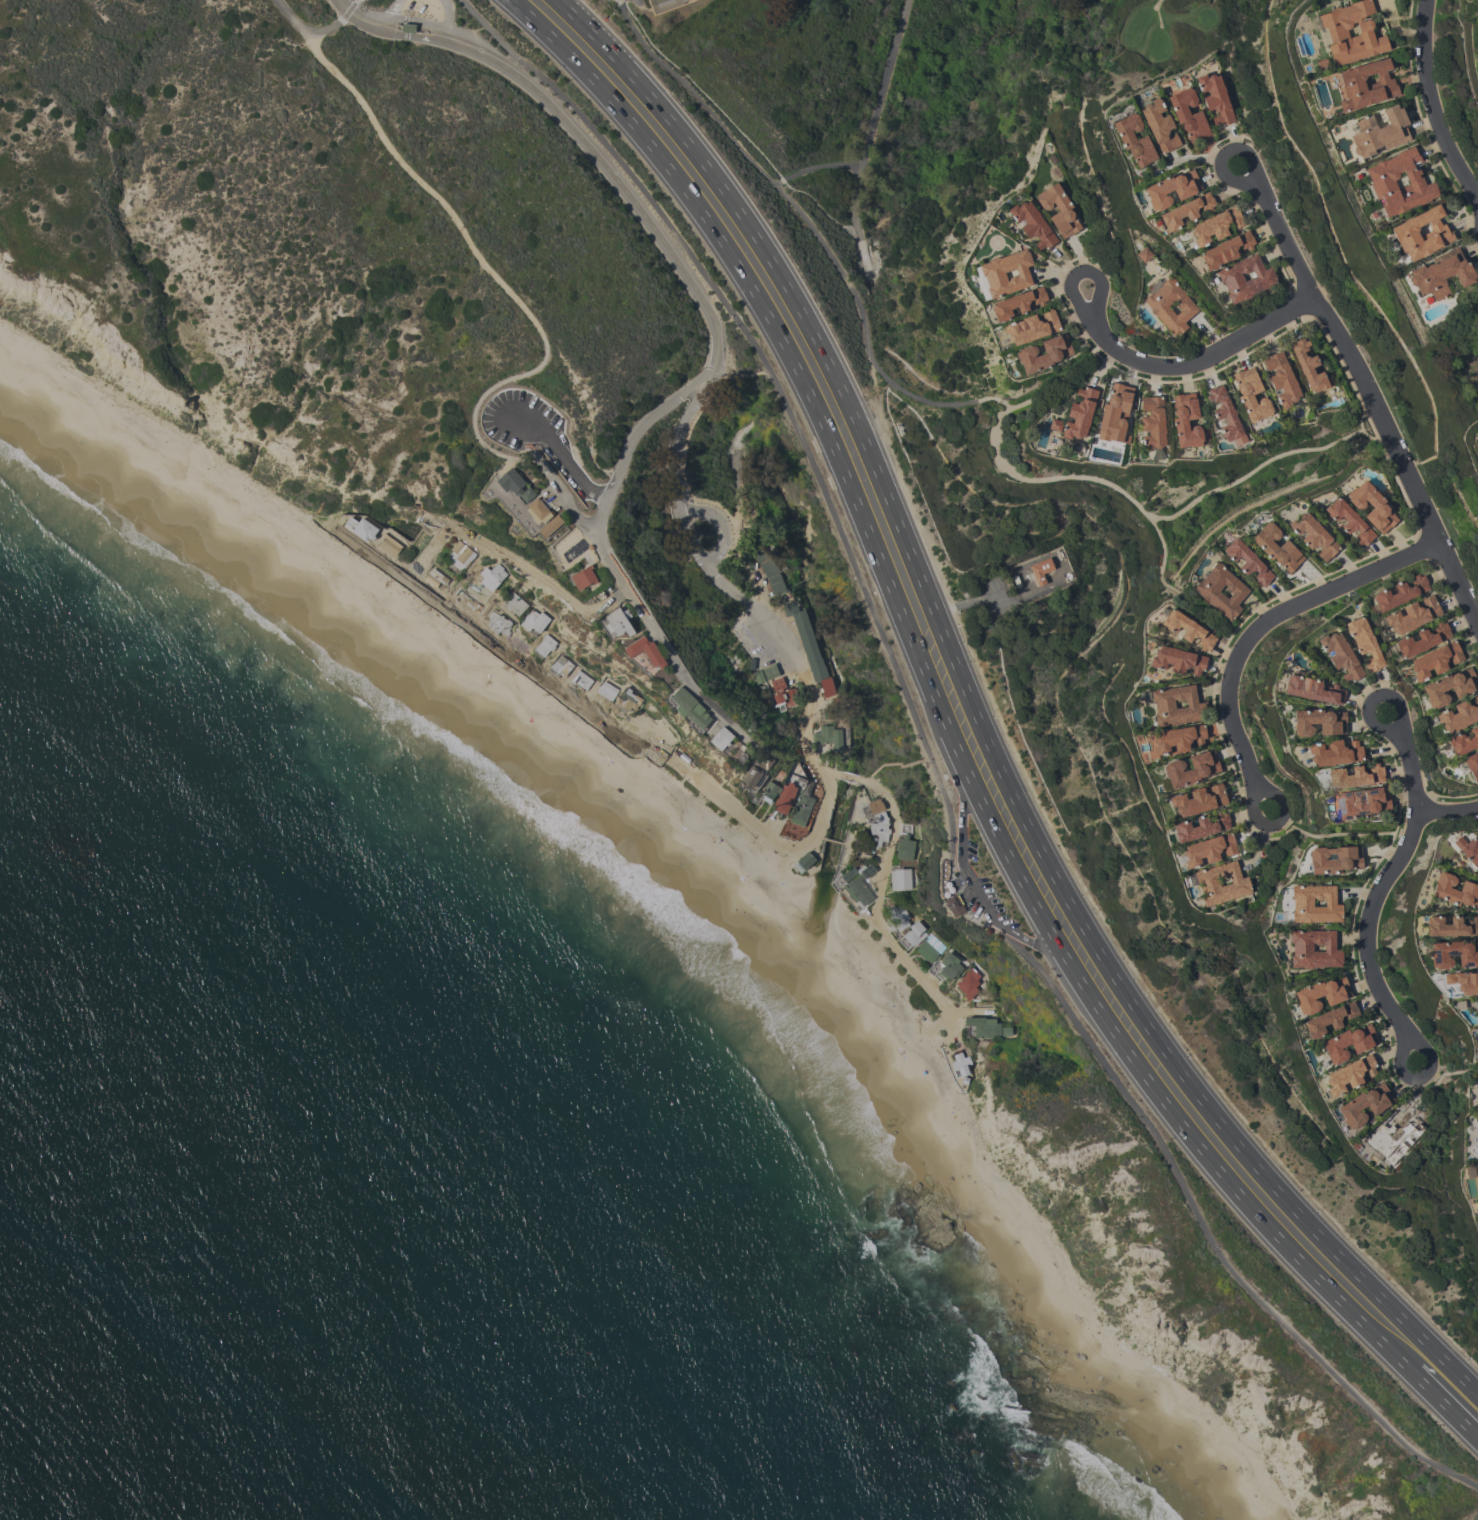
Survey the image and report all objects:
road: (355, 0)
building: (663, 4)
road: (343, 8)
road: (394, 8)
road: (346, 11)
road: (404, 18)
road: (447, 18)
road: (302, 28)
building: (409, 28)
road: (470, 31)
building: (1351, 32)
park: (1141, 33)
road: (399, 34)
building: (1365, 84)
building: (1215, 98)
road: (1438, 100)
building: (1188, 114)
building: (1158, 124)
building: (1379, 131)
road: (587, 134)
building: (1134, 139)
road: (868, 141)
road: (816, 167)
building: (1400, 182)
building: (1171, 188)
building: (1058, 209)
building: (1186, 211)
building: (1032, 224)
building: (1216, 225)
building: (1422, 233)
building: (1226, 250)
building: (1143, 254)
road: (680, 266)
road: (485, 267)
building: (1006, 273)
building: (1441, 273)
building: (1245, 277)
road: (848, 279)
building: (1017, 303)
building: (1170, 306)
building: (1031, 327)
building: (1044, 353)
road: (1188, 363)
building: (1308, 366)
road: (739, 375)
building: (1281, 378)
road: (1366, 385)
building: (1251, 394)
road: (783, 404)
building: (1114, 411)
building: (1080, 413)
building: (1226, 415)
building: (1187, 421)
parking lot: (523, 422)
building: (1152, 422)
building: (1055, 424)
road: (1361, 428)
road: (629, 441)
road: (559, 452)
road: (872, 459)
road: (504, 463)
road: (737, 466)
road: (1253, 470)
building: (512, 482)
building: (528, 495)
road: (1127, 495)
road: (538, 497)
road: (700, 500)
road: (508, 501)
building: (1372, 506)
building: (540, 509)
building: (1349, 520)
road: (724, 524)
building: (551, 525)
building: (361, 528)
building: (1313, 535)
building: (388, 545)
road: (578, 545)
parking lot: (574, 547)
building: (1276, 547)
building: (459, 554)
road: (516, 559)
building: (1247, 561)
building: (768, 570)
building: (1040, 570)
building: (491, 576)
building: (584, 577)
building: (434, 578)
building: (1221, 590)
building: (1400, 592)
road: (638, 601)
building: (513, 603)
road: (610, 608)
building: (1413, 615)
road: (761, 618)
building: (533, 620)
road: (1266, 620)
building: (619, 622)
building: (497, 623)
building: (1187, 629)
building: (807, 639)
building: (1422, 639)
parking lot: (750, 640)
building: (1364, 642)
building: (543, 646)
building: (646, 651)
building: (1341, 655)
building: (1177, 660)
building: (1435, 660)
building: (559, 666)
building: (771, 671)
building: (758, 676)
building: (580, 679)
building: (778, 684)
building: (1449, 686)
building: (828, 687)
building: (1312, 688)
building: (606, 690)
road: (1372, 695)
building: (787, 698)
building: (628, 699)
building: (1176, 705)
building: (691, 707)
building: (842, 708)
building: (1458, 715)
building: (1318, 721)
building: (829, 736)
road: (803, 737)
building: (722, 738)
building: (1178, 738)
building: (1463, 741)
road: (954, 742)
building: (1334, 752)
road: (943, 756)
road: (923, 759)
building: (1472, 765)
building: (1191, 768)
building: (1354, 776)
building: (752, 777)
road: (824, 777)
road: (849, 777)
road: (867, 779)
road: (868, 782)
building: (808, 787)
building: (771, 790)
road: (731, 797)
building: (785, 798)
building: (1198, 800)
building: (1361, 802)
building: (875, 806)
building: (802, 809)
road: (1447, 810)
road: (1275, 821)
building: (1200, 826)
building: (795, 828)
building: (881, 829)
road: (1342, 833)
road: (849, 839)
road: (832, 843)
building: (905, 847)
road: (819, 848)
building: (1209, 849)
road: (852, 850)
parking lot: (970, 850)
building: (1468, 850)
road: (961, 853)
building: (1334, 859)
building: (806, 860)
road: (883, 860)
building: (869, 871)
building: (849, 874)
building: (901, 879)
building: (1221, 883)
road: (1379, 884)
building: (859, 890)
building: (1455, 890)
parking lot: (965, 895)
parking lot: (995, 902)
road: (981, 904)
building: (1315, 904)
building: (953, 905)
road: (962, 906)
road: (873, 913)
building: (899, 918)
building: (1451, 926)
road: (1011, 931)
building: (915, 932)
road: (1023, 938)
building: (1314, 949)
building: (927, 951)
building: (1453, 954)
road: (1052, 957)
building: (950, 965)
building: (969, 983)
building: (1466, 983)
building: (1321, 994)
building: (1328, 1019)
building: (988, 1027)
building: (1349, 1042)
building: (961, 1063)
building: (1349, 1074)
road: (1420, 1076)
building: (965, 1080)
building: (1477, 1099)
building: (1364, 1105)
building: (1477, 1118)
building: (1477, 1123)
building: (1394, 1136)
road: (1262, 1172)
road: (1208, 1239)
road: (1458, 1374)

